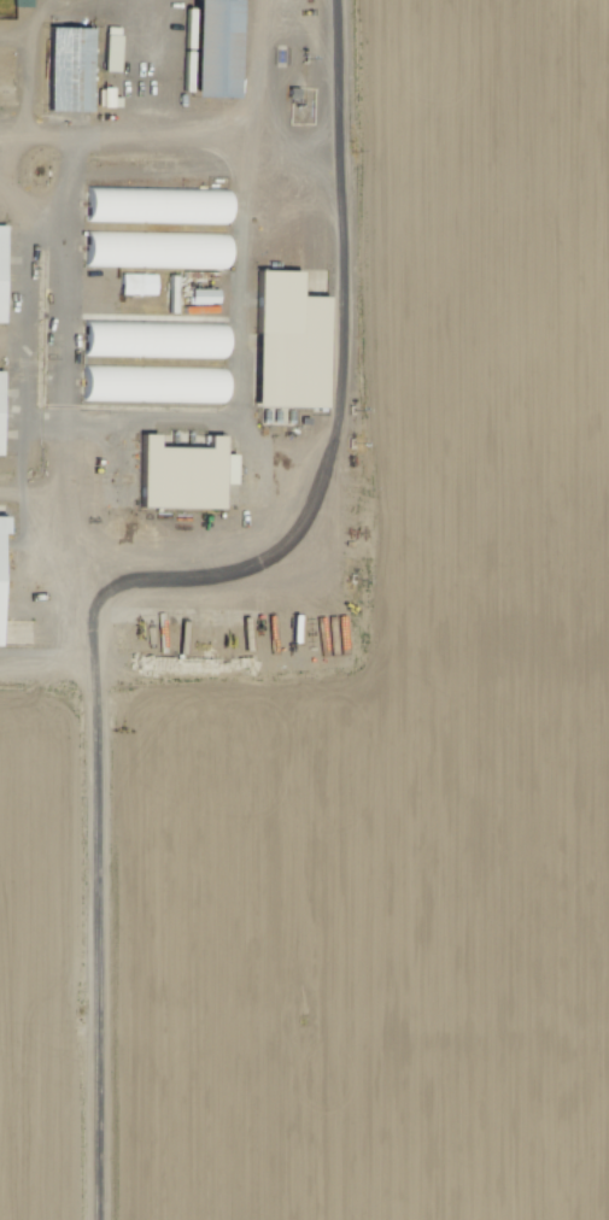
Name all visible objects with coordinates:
building: (210, 47)
building: (66, 65)
building: (156, 201)
building: (154, 248)
building: (2, 277)
building: (151, 339)
building: (286, 342)
building: (152, 386)
building: (180, 474)

